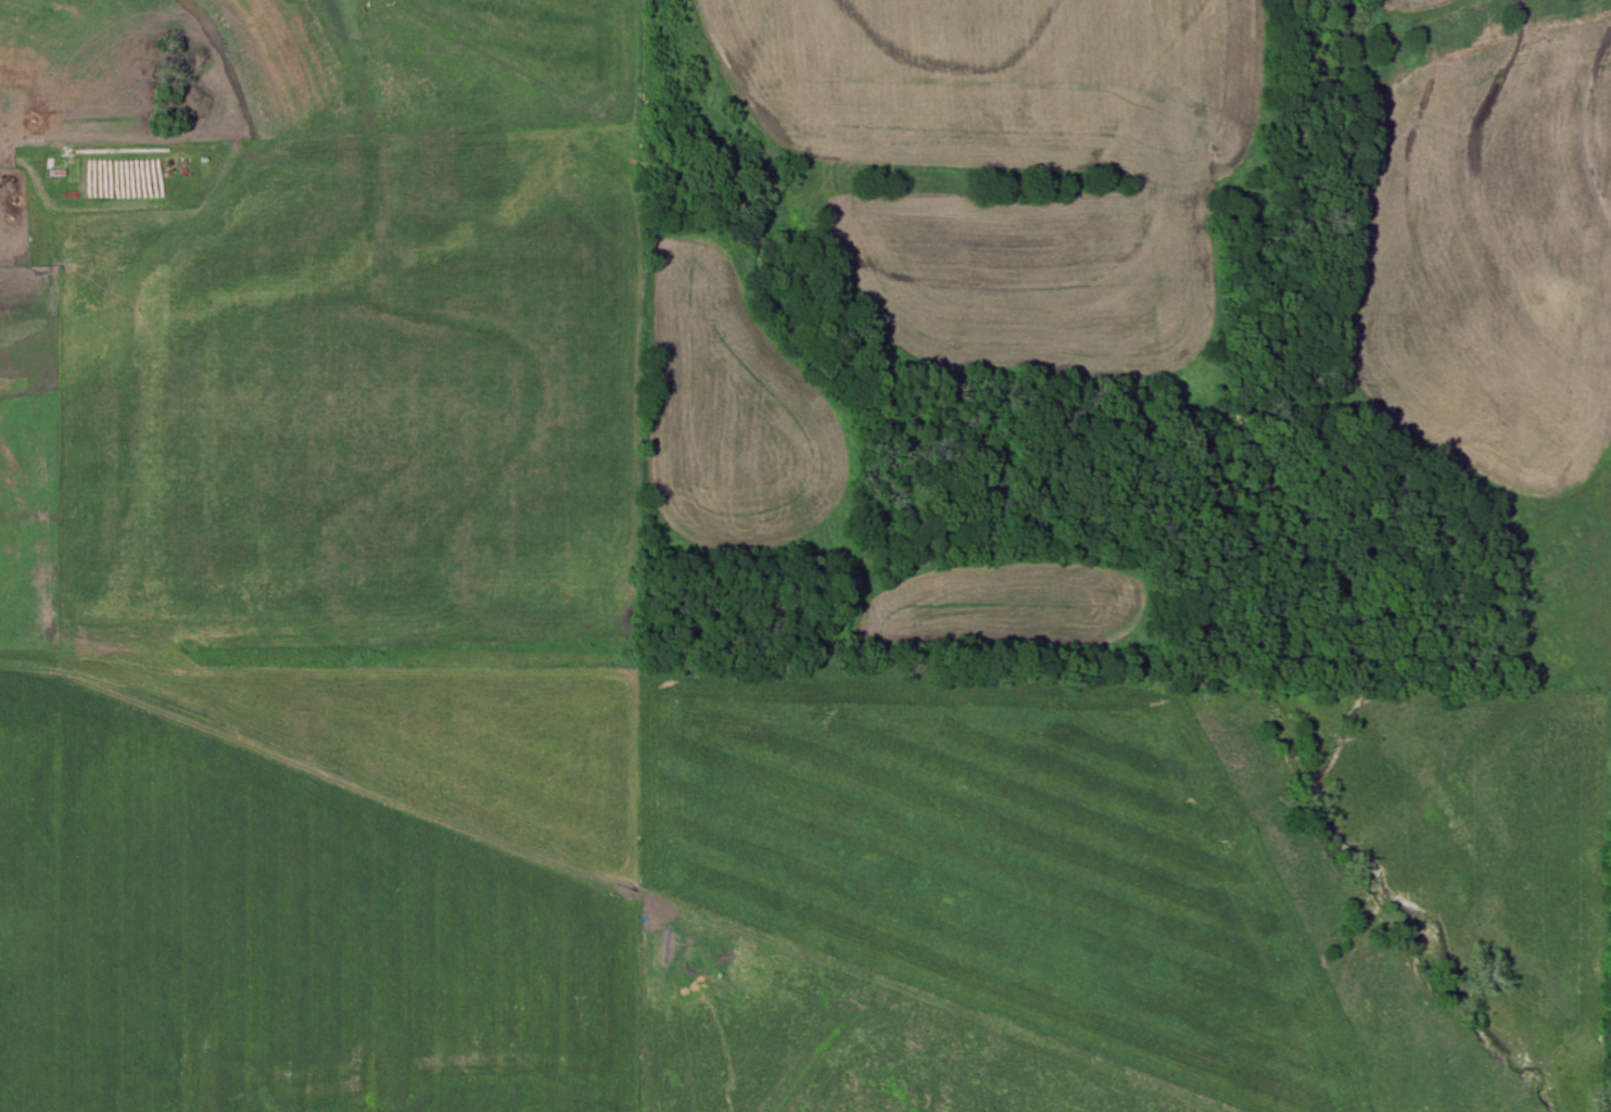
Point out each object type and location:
crop: (1005, 159)
airport: (1129, 339)
crop: (351, 395)
crop: (733, 414)
crop: (316, 886)

